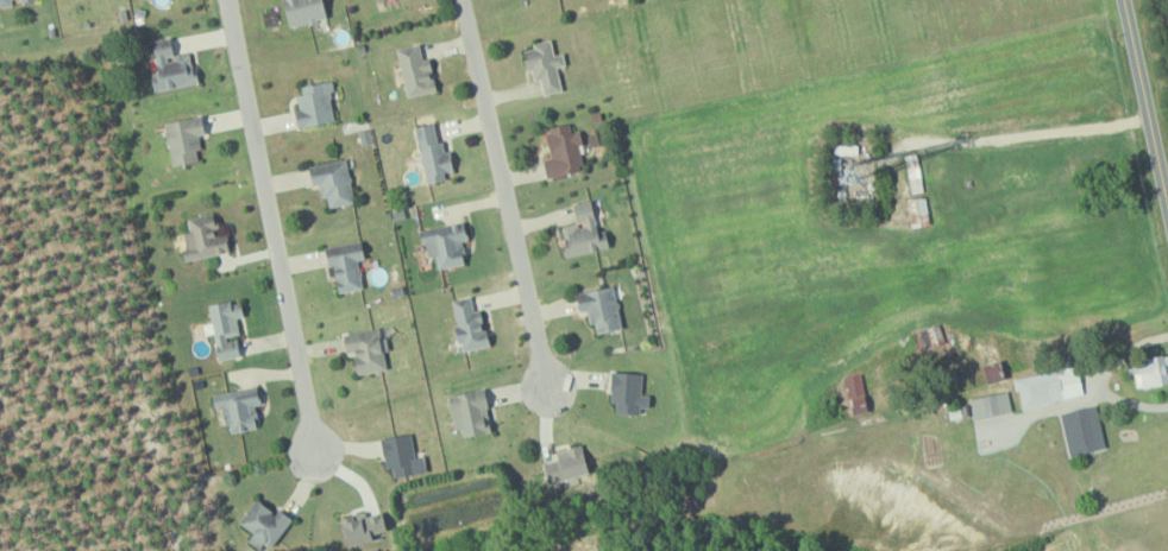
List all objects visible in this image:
building: (8, 2)
building: (301, 11)
building: (542, 64)
building: (169, 65)
building: (413, 70)
building: (313, 103)
road: (1144, 103)
road: (1044, 133)
building: (182, 139)
building: (561, 150)
building: (431, 153)
building: (331, 180)
road: (504, 199)
building: (917, 210)
road: (270, 227)
building: (582, 230)
building: (201, 237)
building: (444, 243)
building: (344, 265)
building: (598, 306)
building: (466, 324)
building: (224, 327)
building: (364, 349)
building: (988, 361)
building: (1150, 370)
road: (1105, 378)
building: (1048, 386)
building: (627, 392)
building: (854, 393)
building: (990, 404)
building: (237, 407)
building: (469, 412)
building: (1081, 430)
building: (400, 455)
building: (564, 464)
building: (262, 524)
building: (359, 526)

